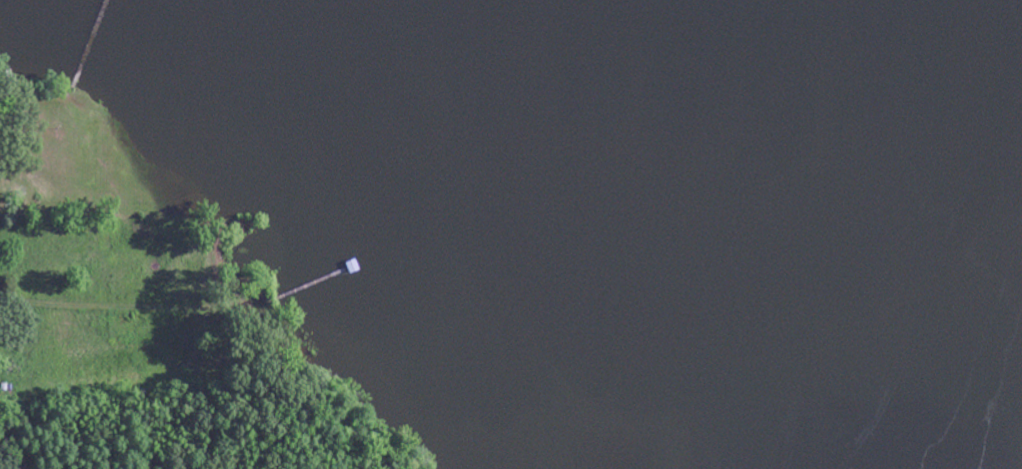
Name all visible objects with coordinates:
pier: (97, 37)
river: (876, 234)
pier: (310, 286)

